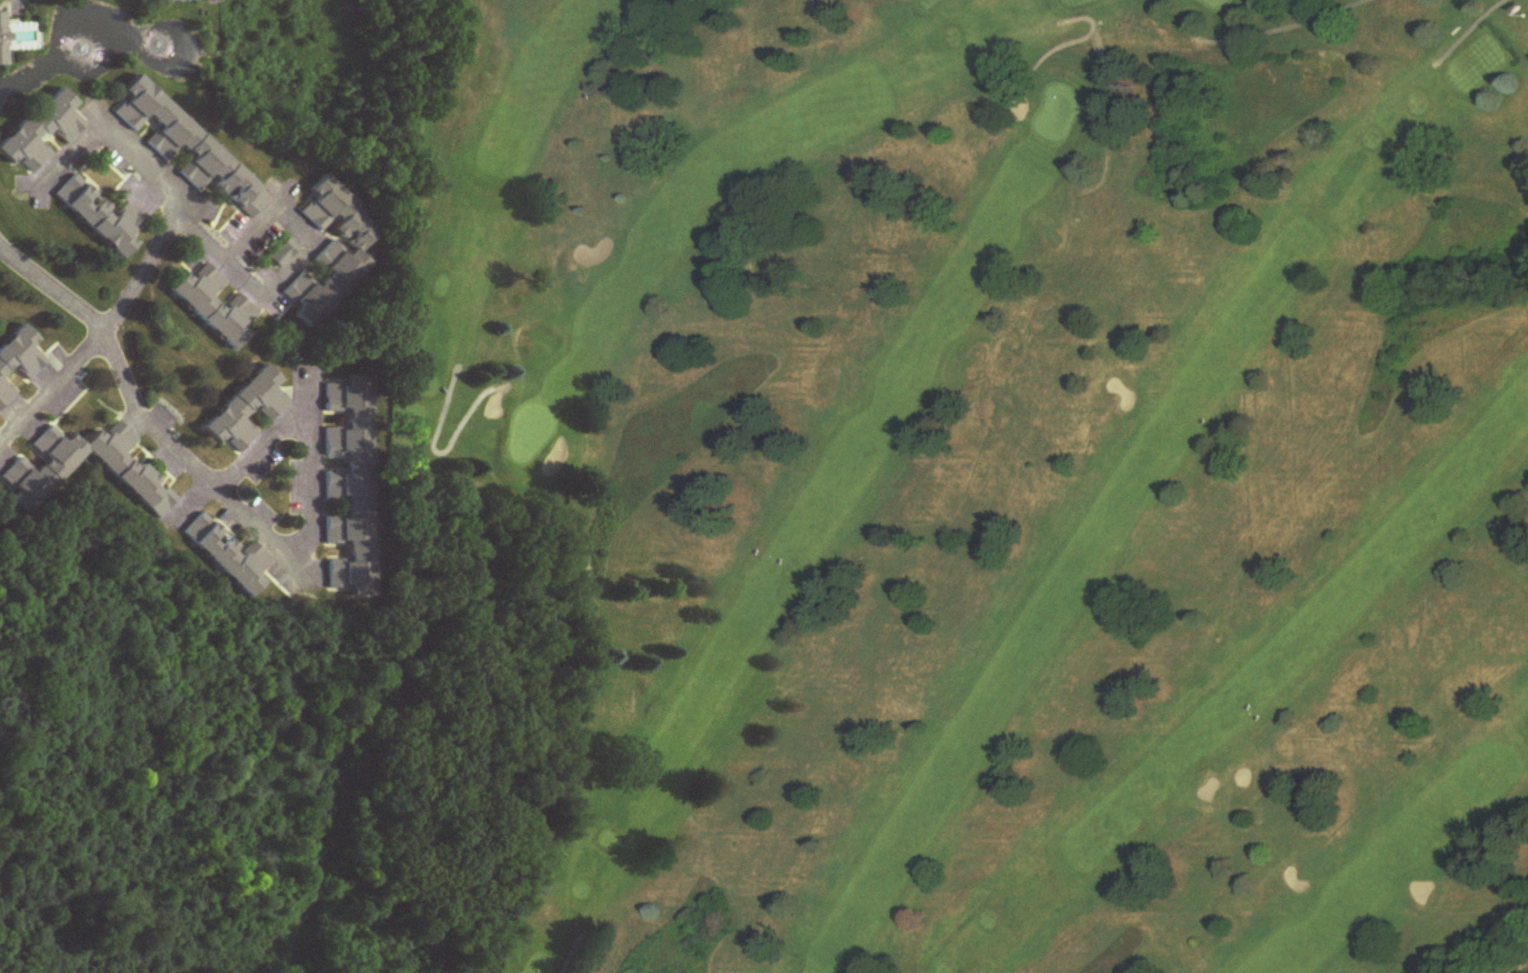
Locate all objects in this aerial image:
building: (180, 0)
building: (4, 40)
building: (43, 131)
building: (190, 150)
road: (150, 180)
building: (102, 217)
road: (294, 227)
building: (332, 253)
building: (283, 254)
road: (137, 266)
building: (216, 307)
road: (90, 319)
building: (18, 361)
road: (52, 386)
building: (248, 411)
road: (168, 440)
road: (257, 443)
building: (124, 468)
park: (986, 472)
building: (351, 484)
road: (305, 532)
building: (229, 556)

